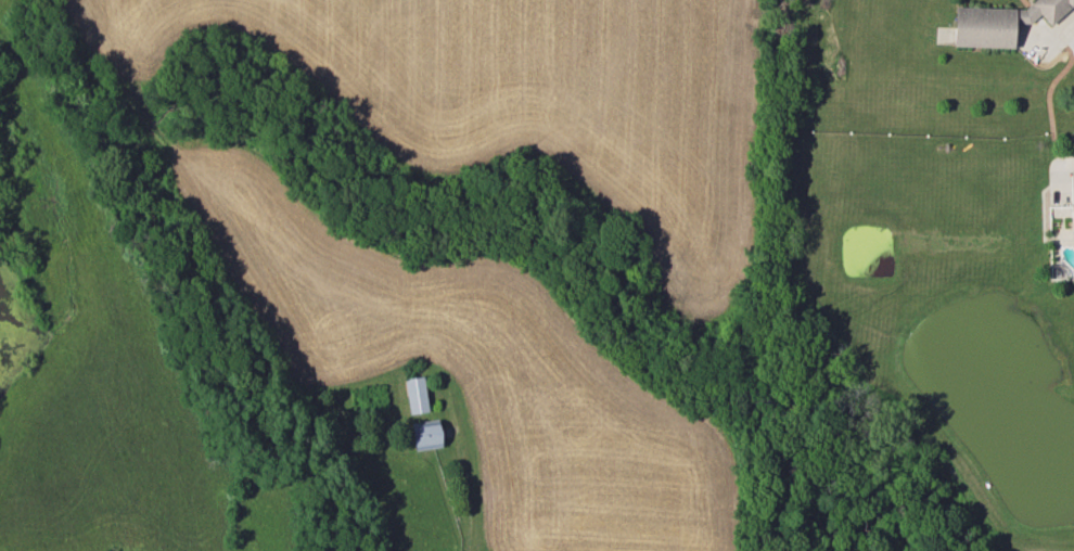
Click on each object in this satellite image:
building: (999, 21)
building: (1071, 215)
crop: (388, 280)
building: (414, 394)
building: (425, 435)

